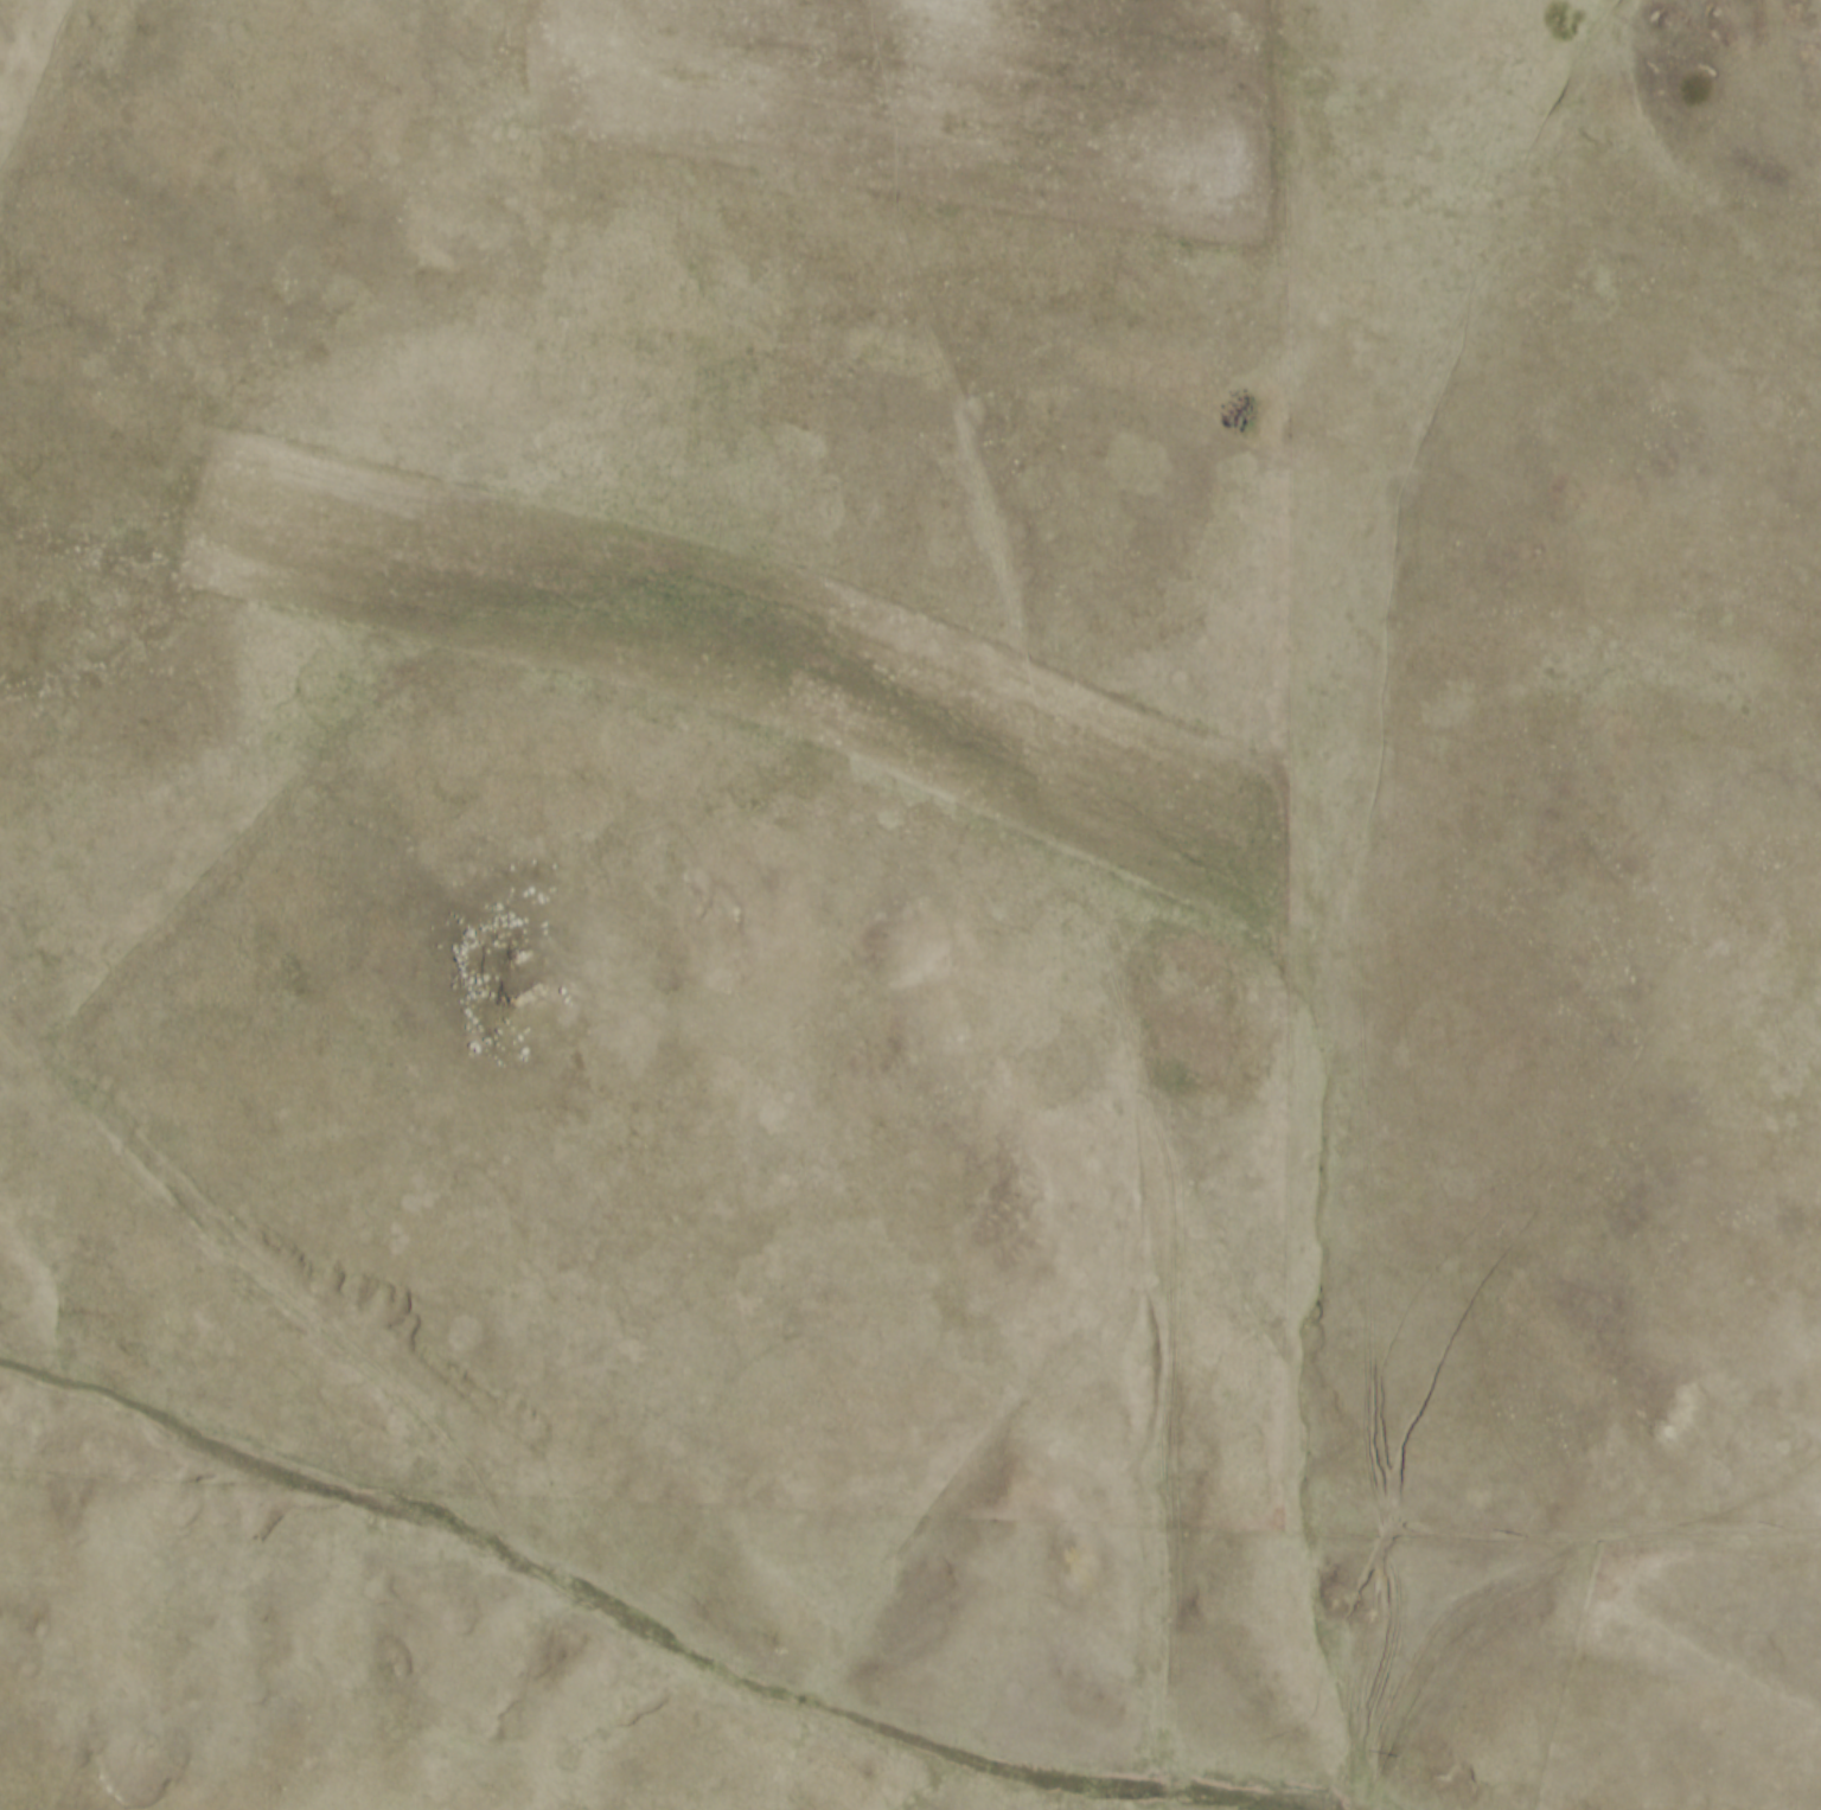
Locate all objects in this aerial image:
road: (1541, 512)

